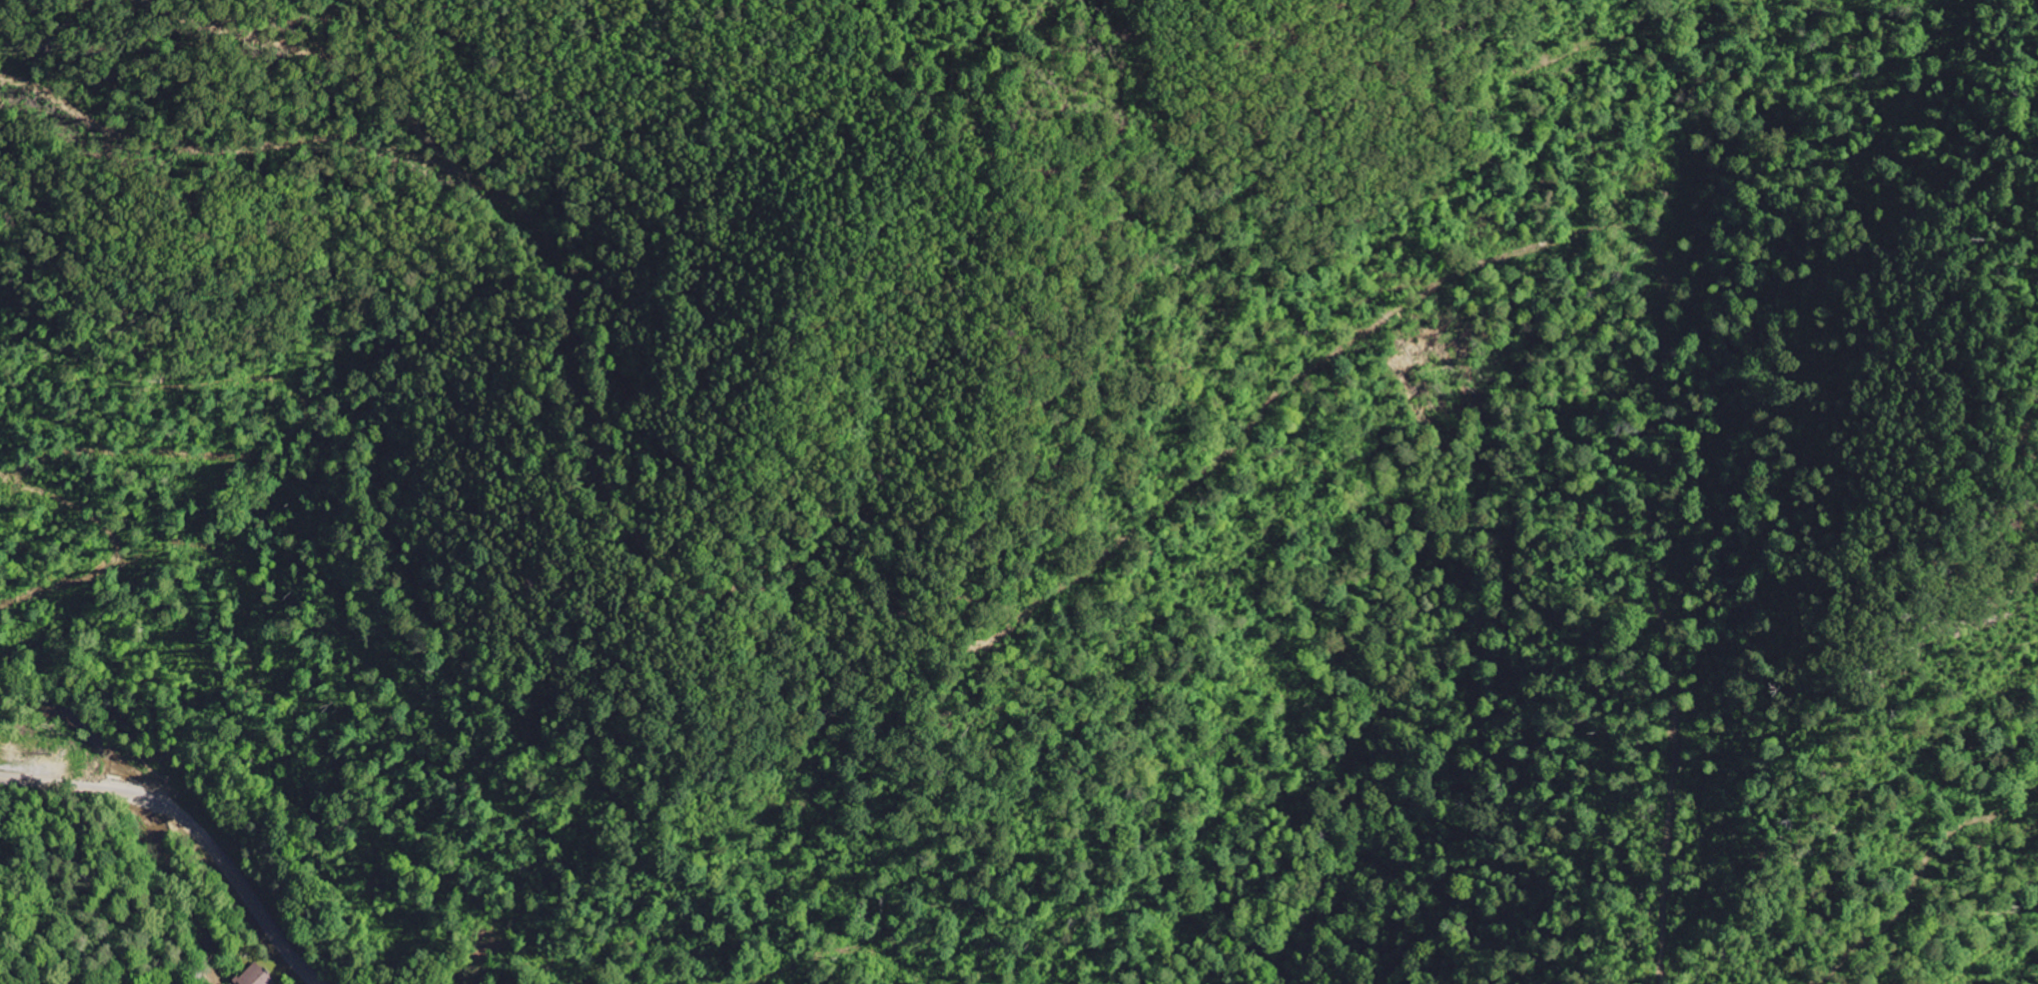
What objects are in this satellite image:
road: (182, 821)
building: (257, 976)

